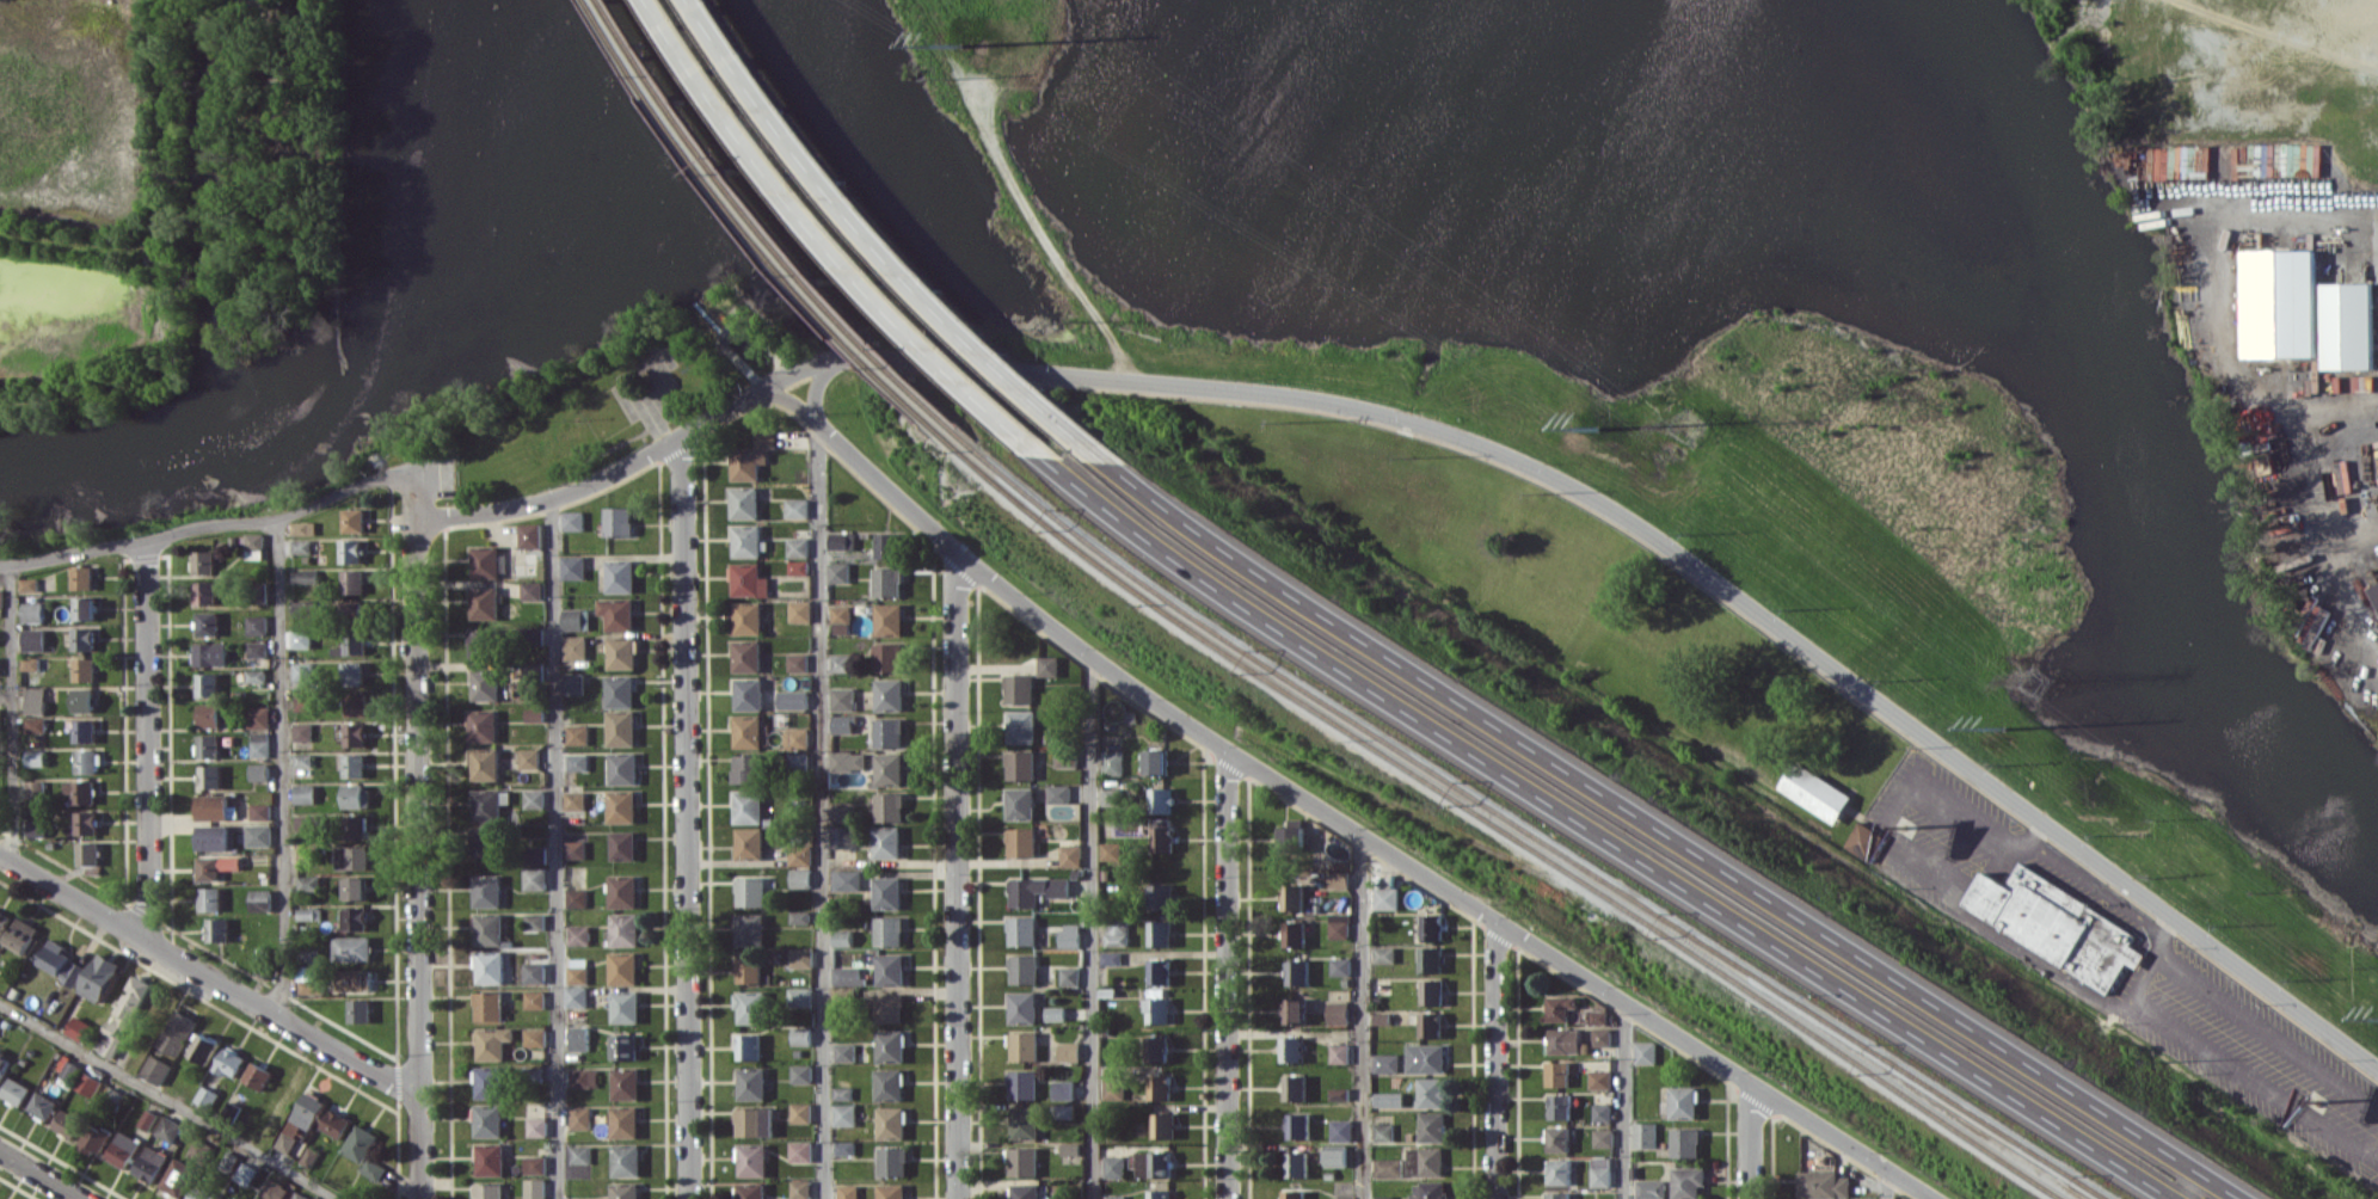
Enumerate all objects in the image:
road: (2278, 35)
power tower: (963, 45)
road: (161, 127)
wastewater plant: (160, 198)
road: (1021, 208)
railway: (769, 232)
railway: (756, 236)
road: (837, 242)
road: (886, 245)
building: (2273, 305)
road: (154, 319)
building: (2343, 325)
building: (736, 332)
road: (762, 340)
river: (447, 349)
road: (741, 363)
park: (613, 389)
power tower: (1597, 428)
power tower: (1689, 428)
river: (2122, 441)
road: (1473, 444)
building: (752, 456)
building: (744, 502)
building: (795, 508)
building: (355, 519)
building: (573, 519)
building: (619, 521)
road: (228, 523)
building: (305, 528)
building: (531, 535)
building: (746, 540)
building: (840, 540)
building: (885, 545)
building: (256, 546)
building: (302, 546)
building: (795, 547)
building: (352, 551)
building: (204, 561)
building: (486, 561)
building: (573, 566)
building: (797, 567)
building: (836, 572)
building: (306, 576)
building: (620, 576)
building: (84, 577)
building: (748, 579)
building: (354, 580)
building: (884, 582)
building: (30, 584)
building: (2377, 585)
building: (533, 590)
building: (207, 592)
building: (2374, 596)
building: (1, 597)
building: (485, 602)
building: (355, 605)
building: (86, 608)
building: (33, 611)
building: (617, 613)
building: (838, 613)
building: (746, 617)
building: (576, 619)
building: (886, 619)
building: (209, 623)
building: (258, 625)
building: (85, 638)
building: (36, 639)
building: (303, 639)
building: (356, 641)
building: (483, 644)
building: (576, 647)
building: (258, 648)
building: (621, 652)
building: (213, 653)
building: (745, 656)
building: (885, 657)
building: (795, 662)
building: (32, 663)
building: (838, 663)
building: (1044, 665)
building: (0, 666)
building: (86, 669)
building: (303, 670)
building: (533, 671)
building: (354, 672)
building: (256, 675)
power tower: (2038, 678)
building: (573, 683)
building: (209, 684)
building: (486, 684)
building: (1016, 688)
building: (620, 690)
building: (746, 694)
building: (887, 694)
building: (841, 697)
building: (791, 699)
building: (37, 700)
building: (85, 700)
building: (306, 701)
building: (0, 702)
building: (357, 703)
road: (14, 713)
building: (210, 714)
building: (535, 714)
building: (259, 717)
building: (37, 724)
building: (840, 724)
building: (483, 725)
building: (1018, 726)
building: (620, 727)
power tower: (2002, 727)
building: (85, 730)
building: (303, 731)
building: (746, 731)
building: (886, 732)
building: (577, 733)
building: (356, 734)
building: (797, 737)
road: (148, 739)
building: (260, 744)
building: (209, 745)
building: (1062, 756)
building: (37, 757)
building: (529, 758)
building: (305, 760)
building: (798, 760)
building: (88, 761)
building: (847, 761)
building: (577, 762)
building: (1108, 762)
building: (1153, 762)
building: (485, 763)
road: (283, 765)
building: (354, 765)
building: (1016, 765)
building: (622, 768)
building: (746, 768)
building: (886, 769)
building: (259, 771)
building: (211, 776)
road: (819, 776)
building: (37, 788)
building: (1812, 788)
building: (82, 791)
building: (305, 793)
building: (1056, 793)
building: (357, 795)
building: (1108, 795)
building: (534, 798)
building: (574, 800)
building: (1156, 800)
building: (1016, 803)
building: (488, 804)
building: (214, 806)
building: (621, 806)
building: (746, 806)
building: (887, 806)
building: (262, 811)
building: (840, 813)
road: (1323, 816)
road: (686, 817)
building: (87, 822)
building: (307, 822)
building: (357, 826)
building: (38, 828)
railway: (1524, 830)
railway: (1505, 832)
road: (1669, 832)
road: (2033, 832)
building: (259, 835)
building: (1157, 835)
road: (1605, 835)
road: (418, 836)
building: (840, 836)
building: (214, 837)
building: (1286, 838)
building: (487, 841)
building: (1018, 841)
building: (1863, 841)
building: (885, 842)
building: (748, 843)
building: (622, 846)
road: (555, 848)
building: (574, 849)
building: (1106, 850)
building: (90, 853)
building: (536, 854)
building: (799, 854)
building: (1068, 855)
building: (354, 857)
building: (217, 866)
road: (953, 874)
building: (535, 878)
building: (799, 878)
building: (1334, 879)
building: (844, 880)
building: (309, 883)
road: (2094, 887)
building: (357, 889)
building: (487, 890)
building: (1033, 890)
building: (622, 891)
building: (749, 892)
building: (885, 892)
building: (1156, 896)
building: (1288, 897)
building: (211, 898)
building: (576, 898)
building: (1381, 898)
building: (262, 899)
building: (309, 914)
building: (798, 916)
building: (357, 918)
building: (4, 921)
building: (534, 921)
building: (2050, 923)
building: (1334, 926)
building: (1426, 926)
building: (488, 928)
road: (1088, 928)
building: (219, 929)
building: (625, 929)
building: (749, 929)
building: (886, 930)
building: (1020, 930)
building: (1113, 930)
building: (1156, 933)
building: (1289, 933)
building: (21, 935)
building: (579, 935)
building: (1067, 935)
road: (2162, 935)
building: (841, 937)
building: (354, 948)
building: (1380, 954)
building: (800, 958)
building: (1108, 958)
building: (1426, 959)
building: (61, 963)
parking lot: (2116, 965)
building: (490, 966)
building: (1337, 966)
building: (622, 967)
building: (889, 969)
building: (1021, 969)
building: (578, 970)
building: (748, 970)
building: (1156, 971)
building: (534, 972)
building: (1292, 972)
road: (1224, 974)
building: (847, 976)
building: (1067, 976)
building: (100, 977)
road: (210, 977)
building: (356, 979)
building: (311, 980)
building: (1427, 991)
building: (576, 996)
building: (799, 996)
building: (535, 1000)
building: (488, 1006)
building: (625, 1006)
building: (129, 1007)
building: (750, 1007)
building: (887, 1007)
building: (1020, 1007)
building: (1555, 1007)
building: (360, 1010)
building: (1155, 1010)
building: (1290, 1010)
building: (1053, 1013)
building: (1334, 1013)
road: (1357, 1017)
building: (1426, 1025)
building: (79, 1027)
building: (177, 1032)
road: (2267, 1033)
building: (800, 1035)
building: (535, 1037)
building: (1597, 1037)
building: (578, 1038)
building: (1560, 1040)
building: (493, 1041)
building: (889, 1045)
building: (1022, 1045)
building: (625, 1046)
building: (748, 1046)
building: (204, 1047)
building: (1153, 1047)
building: (1288, 1049)
building: (1067, 1051)
building: (843, 1052)
building: (1640, 1052)
building: (1335, 1053)
building: (1420, 1058)
road: (1491, 1059)
building: (4, 1062)
building: (231, 1062)
building: (1382, 1063)
road: (2228, 1065)
building: (156, 1069)
building: (72, 1070)
building: (801, 1072)
building: (1553, 1074)
building: (258, 1075)
building: (584, 1077)
building: (1596, 1078)
building: (491, 1082)
building: (626, 1082)
building: (90, 1083)
building: (751, 1083)
building: (889, 1083)
building: (1020, 1084)
building: (1157, 1087)
building: (1111, 1088)
building: (1290, 1088)
building: (1062, 1089)
building: (17, 1090)
building: (1426, 1092)
building: (842, 1093)
building: (1335, 1094)
building: (207, 1096)
building: (1384, 1099)
road: (1618, 1100)
road: (167, 1101)
building: (1679, 1101)
building: (44, 1105)
building: (1555, 1106)
building: (1063, 1111)
building: (800, 1112)
building: (1597, 1112)
building: (843, 1114)
building: (580, 1118)
building: (301, 1120)
building: (488, 1120)
building: (625, 1121)
building: (754, 1121)
building: (1022, 1121)
building: (68, 1123)
building: (336, 1123)
building: (890, 1123)
building: (1161, 1125)
building: (537, 1126)
building: (1295, 1126)
building: (1427, 1126)
building: (170, 1129)
building: (1338, 1130)
building: (1378, 1132)
building: (1640, 1135)
building: (1598, 1137)
building: (96, 1138)
building: (1554, 1138)
road: (1744, 1140)
building: (1680, 1142)
building: (361, 1143)
building: (843, 1148)
building: (124, 1149)
building: (201, 1149)
building: (1068, 1149)
building: (800, 1151)
building: (580, 1154)
building: (1332, 1155)
building: (309, 1156)
building: (491, 1158)
building: (626, 1160)
building: (752, 1160)
building: (892, 1161)
building: (1021, 1161)
building: (1421, 1161)
road: (2376, 1161)
building: (152, 1163)
building: (1151, 1163)
building: (1294, 1163)
building: (535, 1164)
building: (1112, 1166)
building: (1384, 1168)
building: (374, 1169)
building: (1597, 1170)
building: (1555, 1172)
building: (246, 1173)
road: (41, 1174)
building: (179, 1176)
building: (1683, 1182)
road: (1882, 1183)
building: (1818, 1185)
building: (535, 1188)
building: (1646, 1188)
building: (275, 1189)
building: (625, 1189)
building: (800, 1189)
building: (1425, 1189)
building: (488, 1191)
building: (750, 1191)
building: (890, 1191)
building: (1024, 1191)
building: (847, 1192)
building: (202, 1193)
building: (1156, 1194)
building: (1290, 1194)
building: (300, 1195)
building: (1554, 1195)
building: (1112, 1197)
building: (1381, 1197)
building: (223, 1198)
building: (238, 1198)
building: (1338, 1198)

